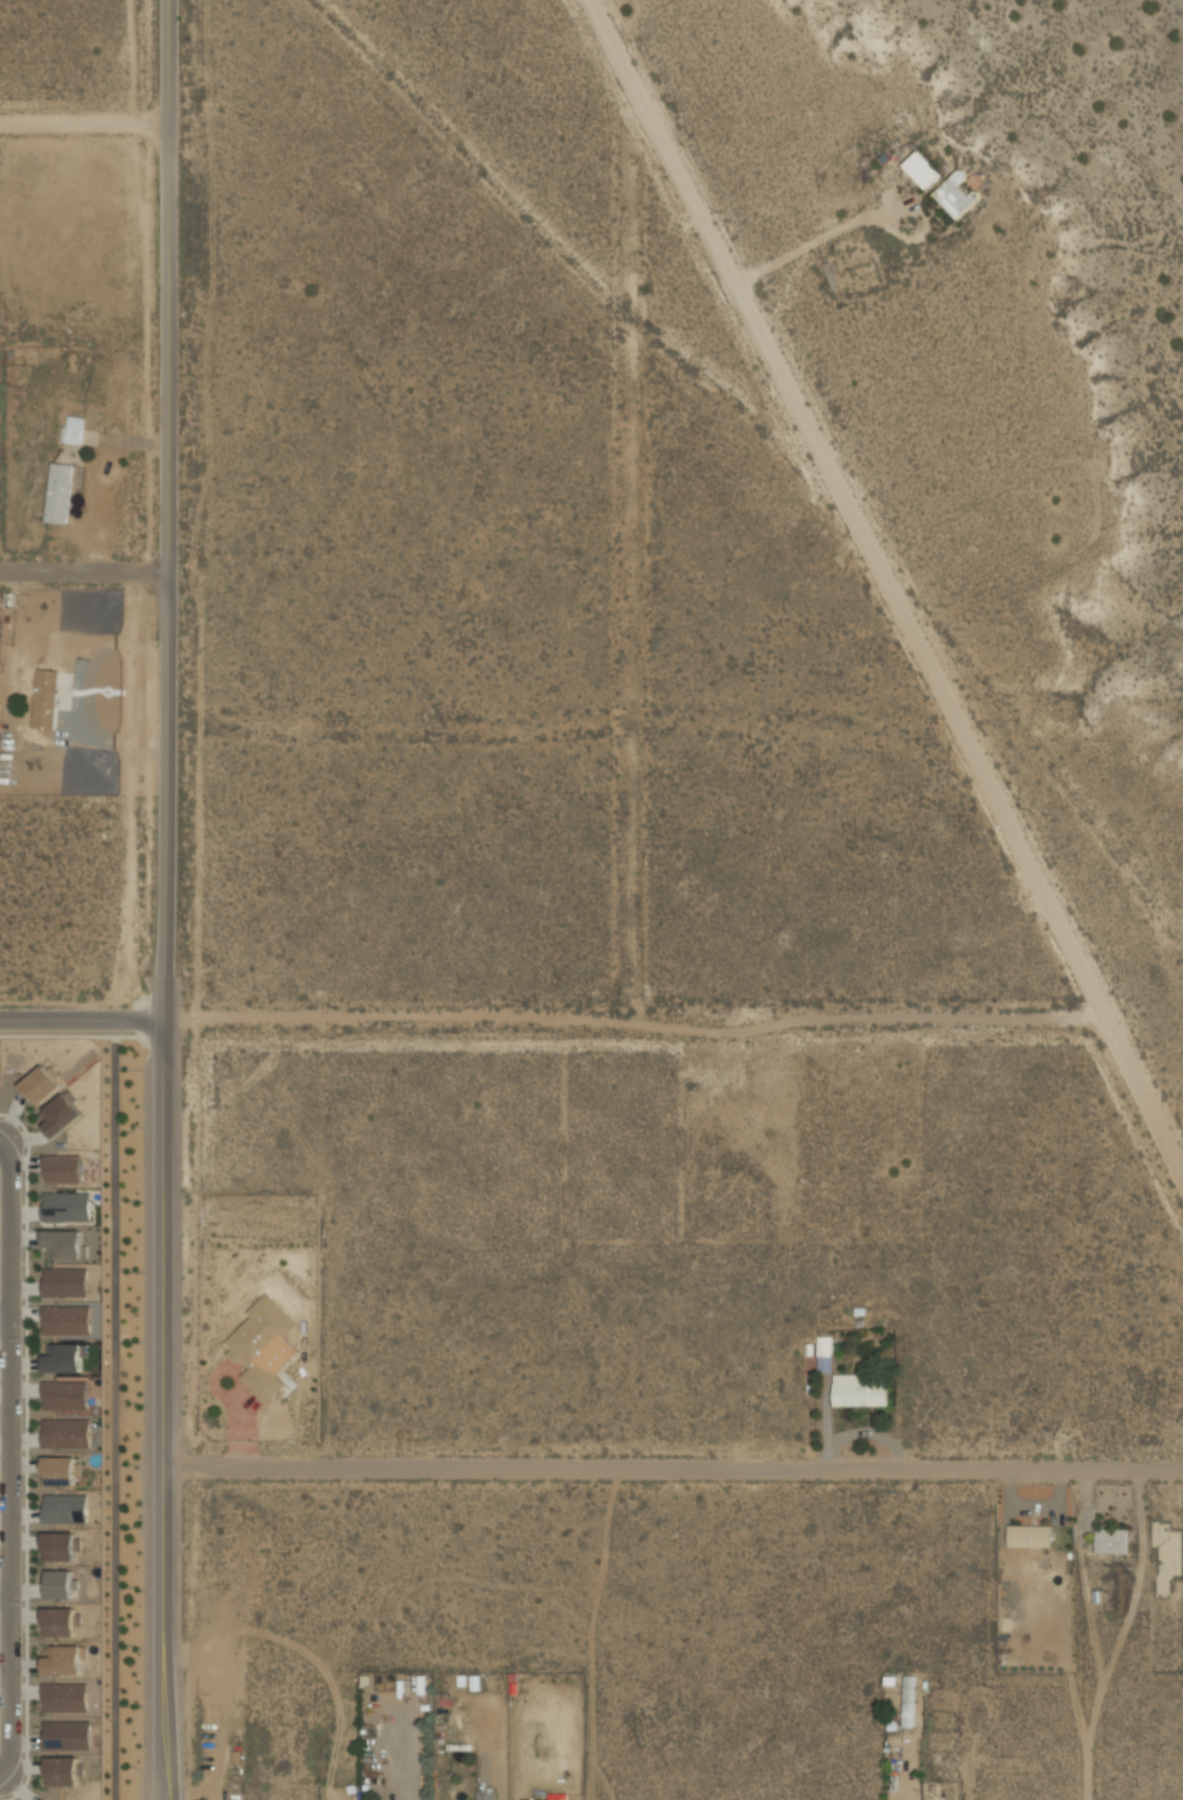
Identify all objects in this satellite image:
road: (85, 123)
building: (921, 167)
building: (956, 191)
building: (72, 427)
building: (59, 491)
road: (649, 569)
road: (84, 572)
road: (887, 585)
building: (45, 697)
road: (165, 899)
road: (82, 1020)
road: (635, 1029)
building: (41, 1082)
building: (60, 1113)
building: (60, 1168)
building: (65, 1205)
building: (63, 1244)
building: (64, 1280)
building: (65, 1318)
road: (5, 1323)
building: (258, 1344)
building: (822, 1352)
building: (65, 1356)
road: (116, 1358)
building: (857, 1391)
building: (64, 1393)
building: (65, 1432)
road: (11, 1457)
building: (60, 1468)
road: (673, 1468)
building: (64, 1507)
building: (1030, 1534)
building: (1111, 1539)
building: (61, 1545)
building: (61, 1582)
road: (5, 1593)
building: (61, 1619)
road: (1132, 1635)
building: (66, 1659)
building: (64, 1695)
building: (909, 1700)
building: (65, 1734)
building: (63, 1770)
building: (483, 1795)
building: (557, 1795)
building: (45, 1799)

